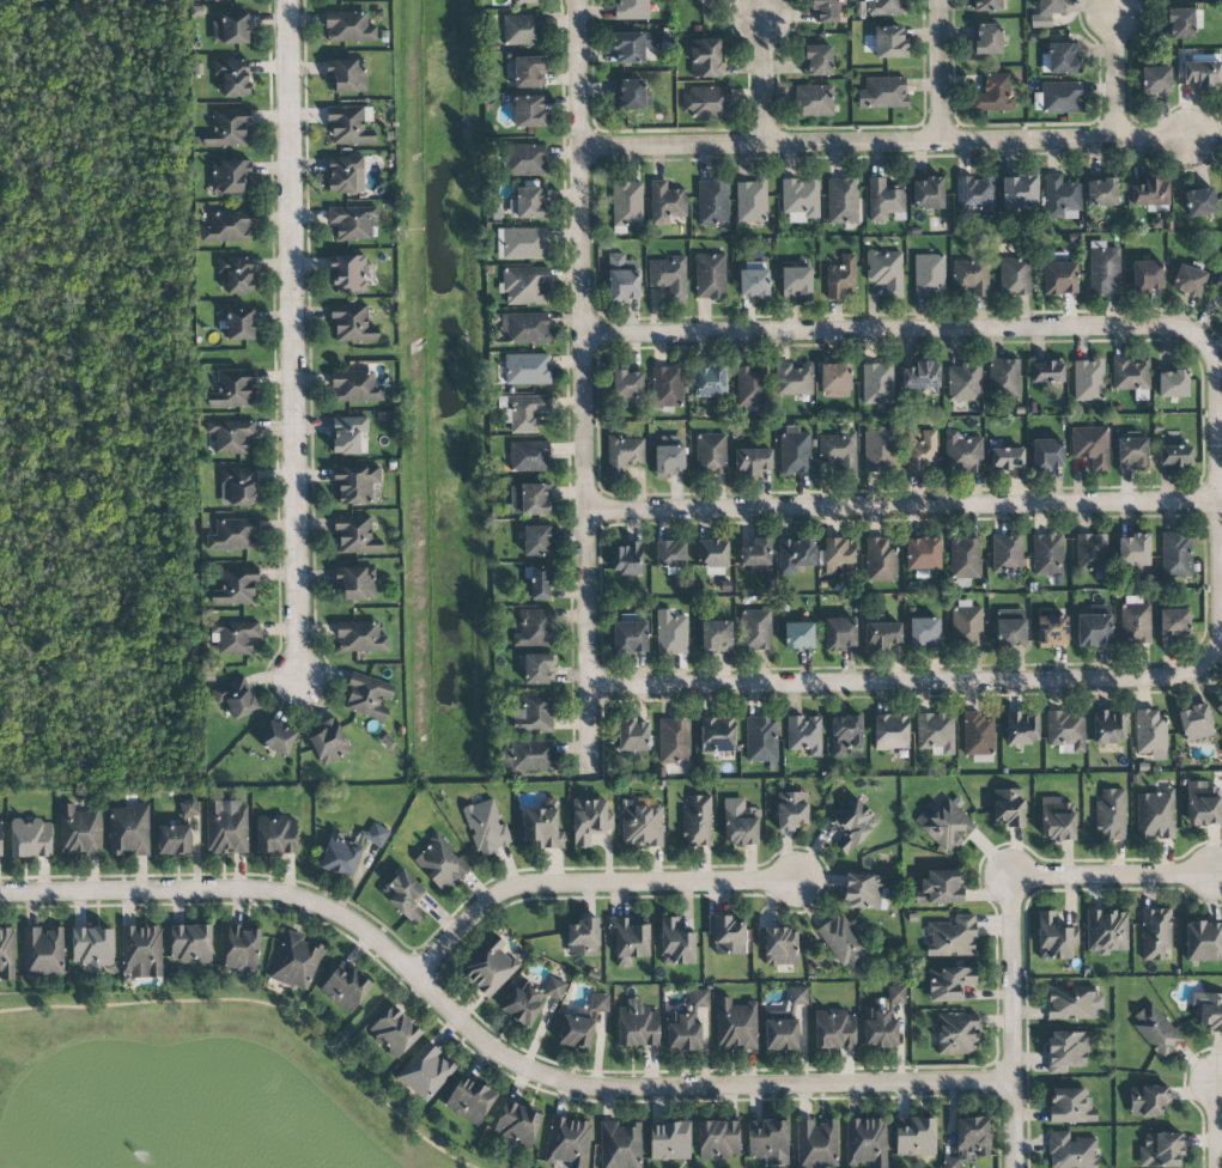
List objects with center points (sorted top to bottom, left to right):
building: (522, 1)
building: (706, 1)
building: (986, 5)
building: (884, 7)
building: (631, 10)
building: (825, 11)
building: (1046, 12)
building: (1181, 23)
building: (348, 26)
building: (230, 29)
building: (522, 30)
building: (986, 38)
building: (889, 42)
building: (633, 45)
building: (704, 57)
building: (816, 60)
road: (940, 71)
building: (528, 72)
road: (1114, 74)
building: (1200, 74)
building: (347, 75)
building: (233, 77)
road: (762, 80)
building: (1155, 80)
building: (882, 93)
building: (993, 93)
building: (630, 95)
building: (1060, 97)
building: (814, 101)
building: (706, 102)
building: (528, 111)
building: (348, 126)
building: (227, 128)
road: (881, 142)
building: (527, 159)
building: (345, 174)
building: (229, 176)
building: (1019, 191)
building: (1101, 191)
building: (1150, 191)
building: (928, 193)
building: (1062, 193)
building: (975, 195)
building: (801, 196)
building: (883, 200)
building: (750, 201)
building: (843, 201)
building: (1199, 201)
building: (527, 202)
building: (712, 202)
building: (627, 203)
building: (665, 203)
building: (353, 221)
building: (229, 226)
building: (524, 243)
building: (1104, 268)
building: (886, 272)
building: (349, 273)
building: (237, 274)
building: (929, 274)
building: (710, 275)
building: (1147, 275)
building: (668, 276)
building: (971, 276)
building: (1015, 276)
building: (622, 278)
building: (840, 278)
building: (1059, 278)
building: (1188, 280)
building: (795, 282)
building: (753, 284)
building: (1218, 284)
building: (525, 285)
building: (352, 323)
building: (239, 324)
road: (973, 327)
building: (524, 328)
road: (291, 337)
building: (527, 369)
building: (1046, 372)
building: (1131, 373)
building: (920, 376)
building: (794, 378)
building: (1003, 378)
building: (1088, 379)
building: (835, 381)
building: (709, 382)
building: (963, 382)
building: (877, 383)
building: (1172, 383)
road: (582, 385)
building: (750, 385)
building: (354, 387)
building: (667, 387)
building: (627, 388)
building: (232, 389)
building: (527, 412)
building: (347, 434)
building: (230, 437)
building: (1090, 446)
building: (795, 449)
building: (838, 450)
building: (878, 451)
building: (920, 451)
building: (1131, 452)
building: (710, 454)
building: (962, 454)
building: (1047, 454)
building: (624, 455)
building: (529, 456)
building: (1175, 456)
building: (669, 457)
building: (1007, 458)
building: (752, 461)
building: (354, 482)
building: (238, 487)
building: (530, 499)
road: (904, 503)
building: (233, 535)
building: (355, 535)
building: (536, 541)
building: (1132, 550)
building: (712, 553)
building: (923, 553)
building: (1092, 553)
building: (670, 554)
building: (1007, 554)
building: (1175, 554)
building: (795, 555)
building: (839, 555)
building: (1047, 555)
building: (756, 556)
building: (963, 558)
building: (627, 559)
building: (880, 560)
building: (355, 582)
building: (537, 582)
building: (236, 588)
building: (1135, 620)
building: (1174, 622)
building: (966, 623)
building: (1010, 627)
building: (1094, 627)
building: (534, 628)
building: (755, 629)
building: (1052, 631)
building: (670, 632)
building: (924, 632)
building: (839, 633)
building: (881, 633)
building: (716, 635)
building: (798, 635)
building: (233, 637)
building: (360, 637)
building: (539, 669)
road: (979, 680)
building: (369, 696)
building: (235, 698)
building: (1220, 710)
building: (534, 713)
building: (1194, 722)
building: (1108, 726)
building: (1021, 729)
building: (890, 731)
building: (935, 732)
building: (803, 734)
building: (1150, 734)
building: (632, 735)
building: (717, 735)
building: (845, 735)
building: (978, 737)
building: (278, 738)
building: (674, 740)
building: (760, 740)
building: (329, 742)
building: (530, 755)
building: (1202, 803)
building: (1008, 807)
building: (188, 808)
building: (791, 810)
building: (1109, 815)
building: (1155, 815)
building: (1057, 819)
building: (589, 820)
building: (697, 822)
building: (738, 822)
building: (943, 823)
building: (642, 826)
building: (852, 826)
building: (226, 827)
building: (486, 827)
building: (542, 828)
building: (128, 831)
building: (78, 832)
building: (275, 835)
building: (30, 838)
building: (174, 839)
building: (0, 840)
building: (348, 850)
road: (984, 854)
building: (442, 864)
road: (1111, 875)
road: (590, 881)
building: (940, 887)
building: (864, 890)
building: (403, 895)
road: (1025, 931)
building: (1106, 931)
building: (1155, 933)
building: (726, 935)
building: (950, 937)
building: (1054, 937)
building: (583, 938)
building: (628, 941)
building: (1203, 941)
building: (843, 942)
building: (190, 943)
building: (675, 943)
building: (778, 947)
building: (92, 948)
building: (241, 948)
building: (42, 951)
building: (140, 951)
building: (6, 954)
building: (296, 961)
building: (490, 966)
building: (949, 983)
building: (345, 988)
building: (798, 996)
building: (700, 998)
building: (529, 1000)
road: (268, 1002)
building: (600, 1003)
building: (1072, 1003)
building: (1210, 1011)
road: (365, 1016)
building: (882, 1020)
road: (1011, 1022)
building: (637, 1024)
building: (734, 1024)
building: (833, 1029)
building: (780, 1030)
building: (1156, 1030)
building: (393, 1032)
building: (576, 1032)
building: (682, 1032)
building: (956, 1033)
road: (485, 1039)
building: (1068, 1050)
building: (425, 1071)
road: (509, 1075)
road: (1186, 1097)
building: (470, 1100)
building: (1148, 1100)
building: (1070, 1106)
building: (517, 1124)
road: (1216, 1124)
building: (914, 1136)
building: (718, 1139)
building: (669, 1140)
building: (969, 1140)
building: (567, 1142)
building: (768, 1142)
building: (865, 1142)
building: (620, 1144)
building: (815, 1144)
building: (1161, 1150)
building: (1071, 1151)
fountain: (118, 1160)

